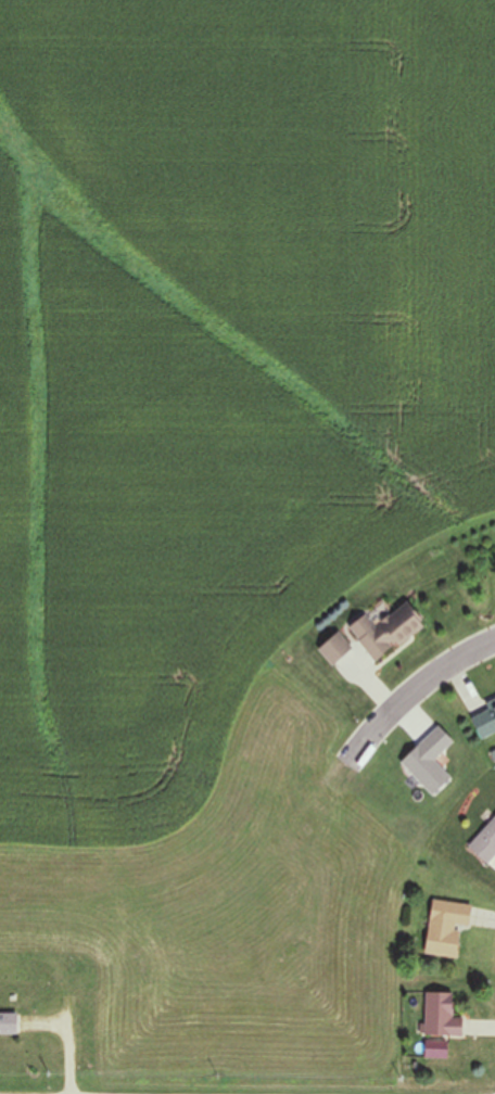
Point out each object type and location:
building: (383, 633)
road: (412, 691)
building: (483, 720)
building: (484, 843)
building: (444, 928)
building: (439, 1015)
building: (7, 1022)
building: (433, 1048)

